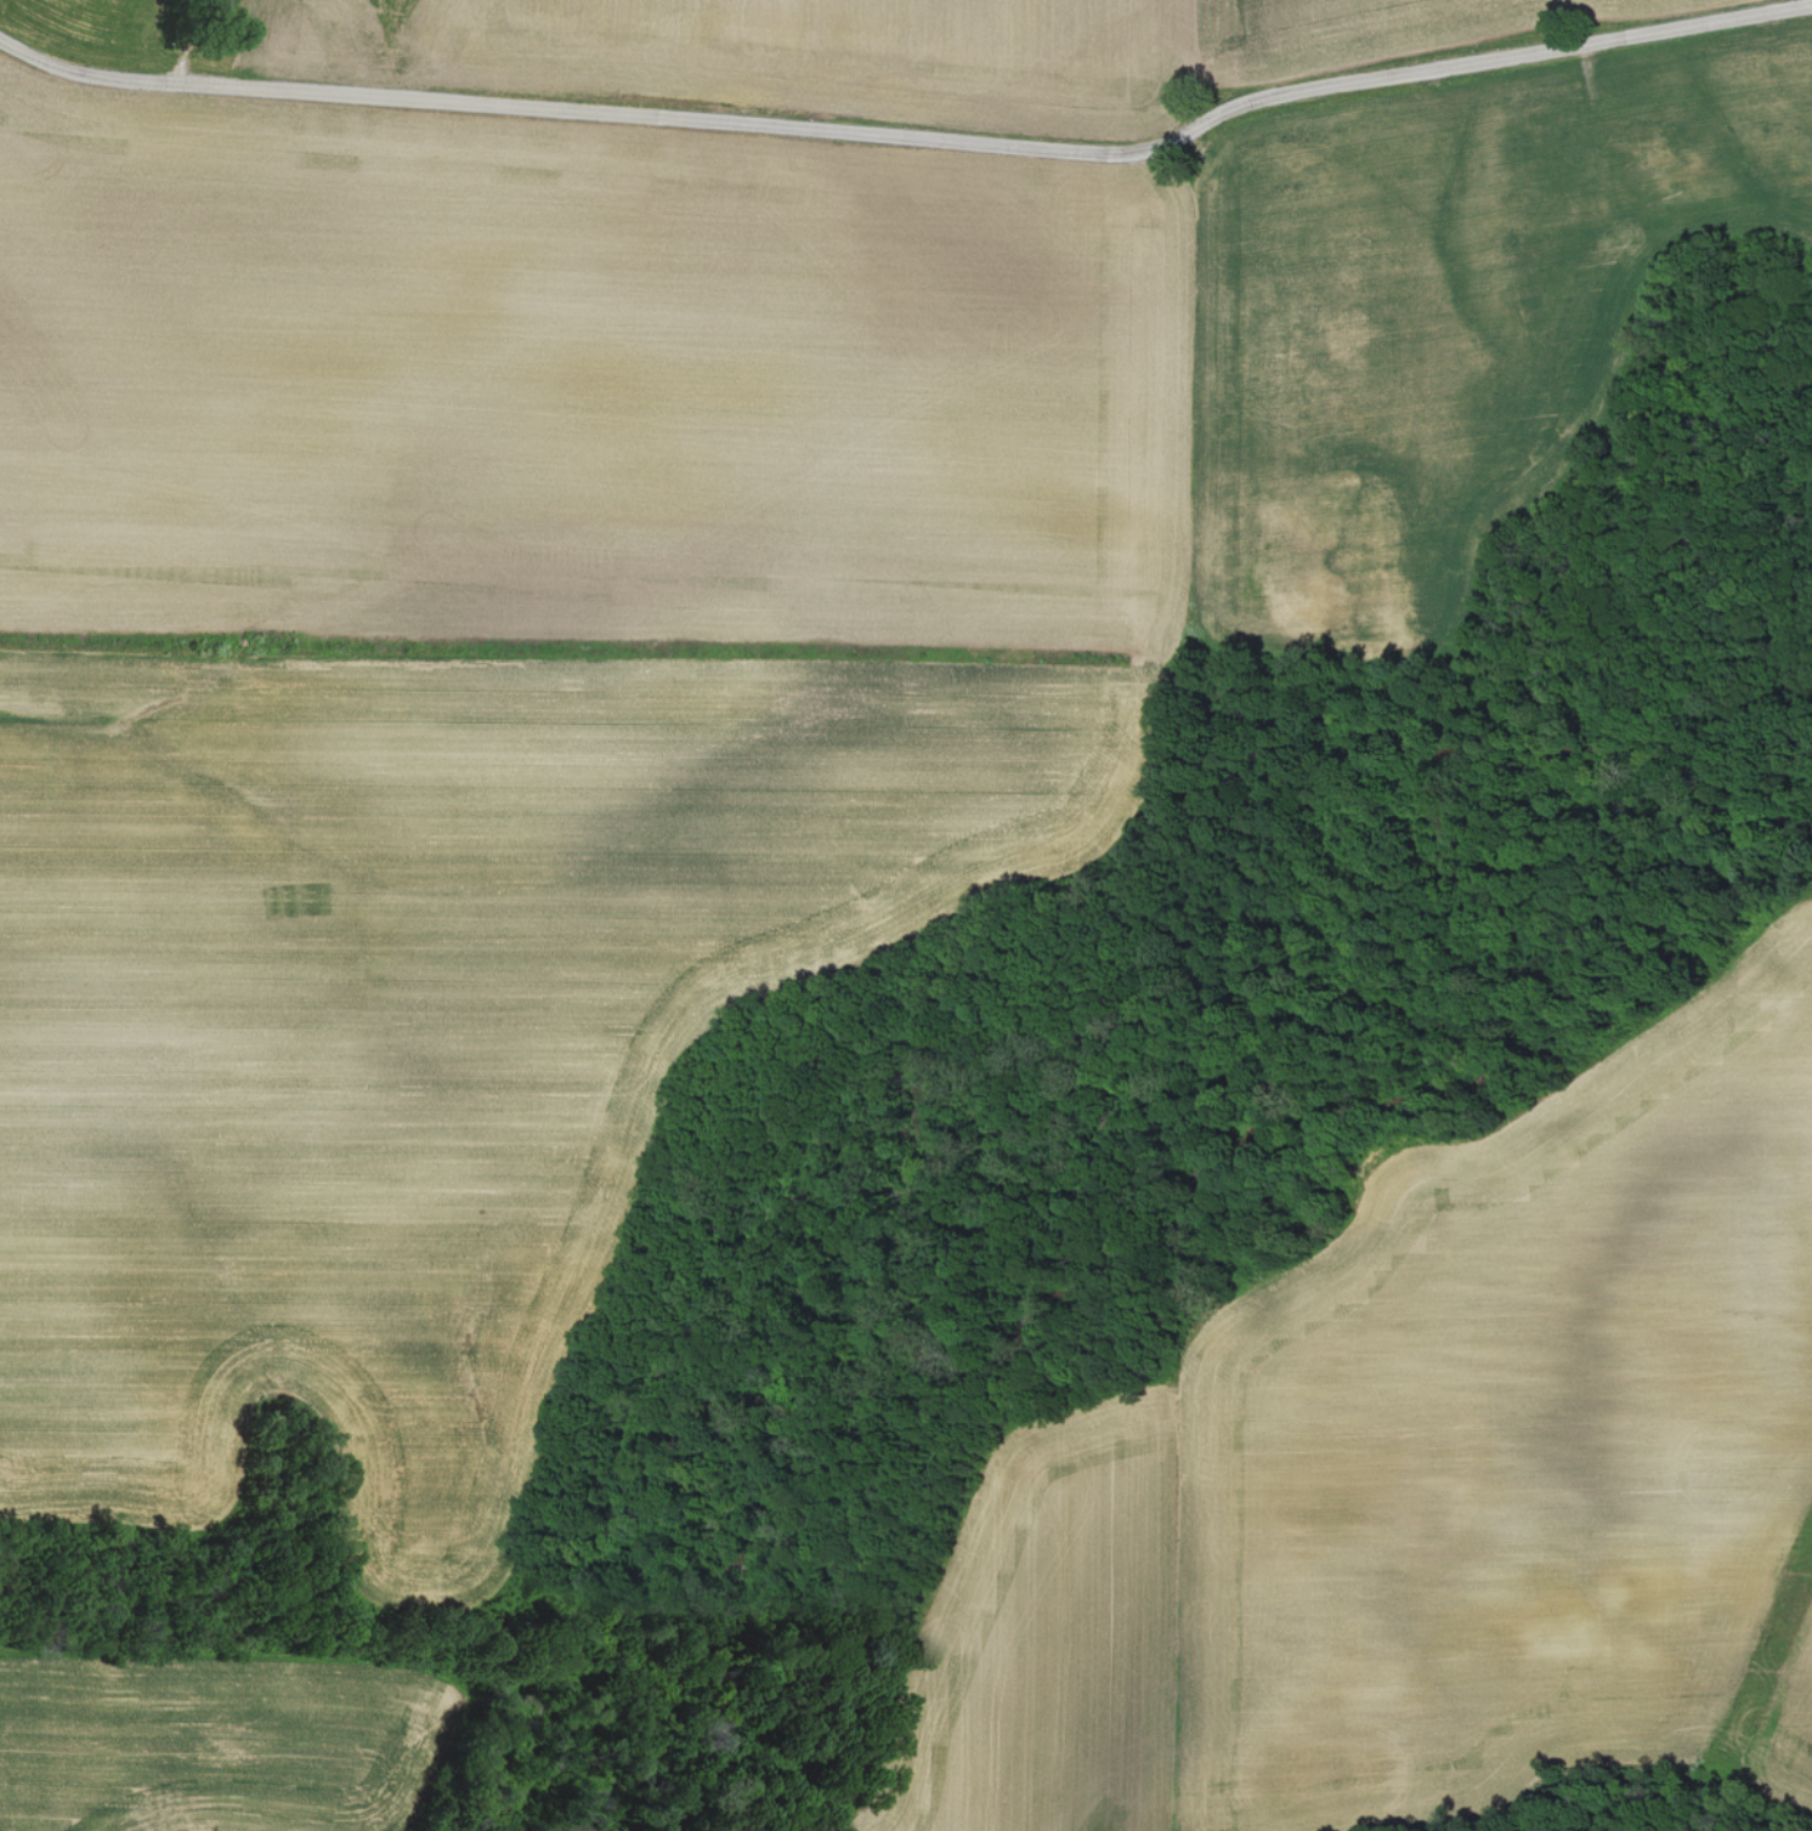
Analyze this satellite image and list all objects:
road: (908, 134)

